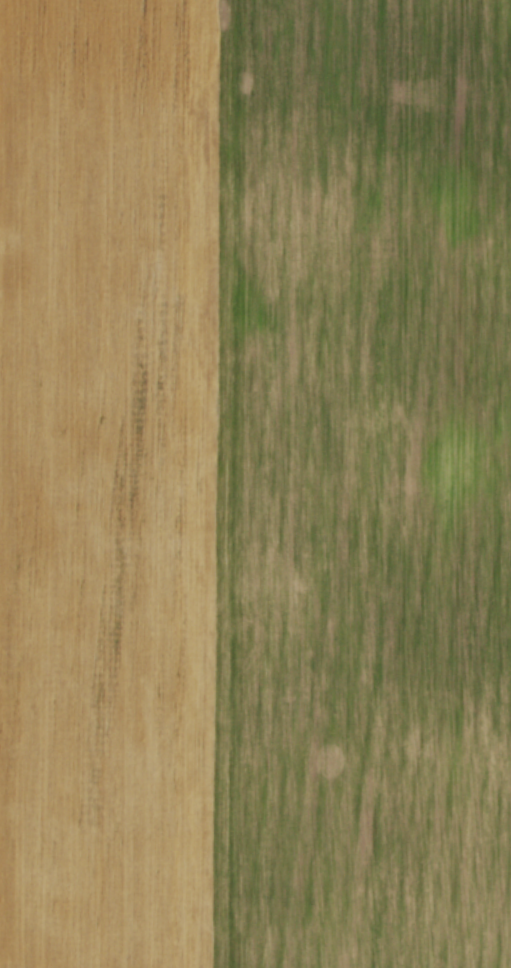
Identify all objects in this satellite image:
crop: (255, 484)

